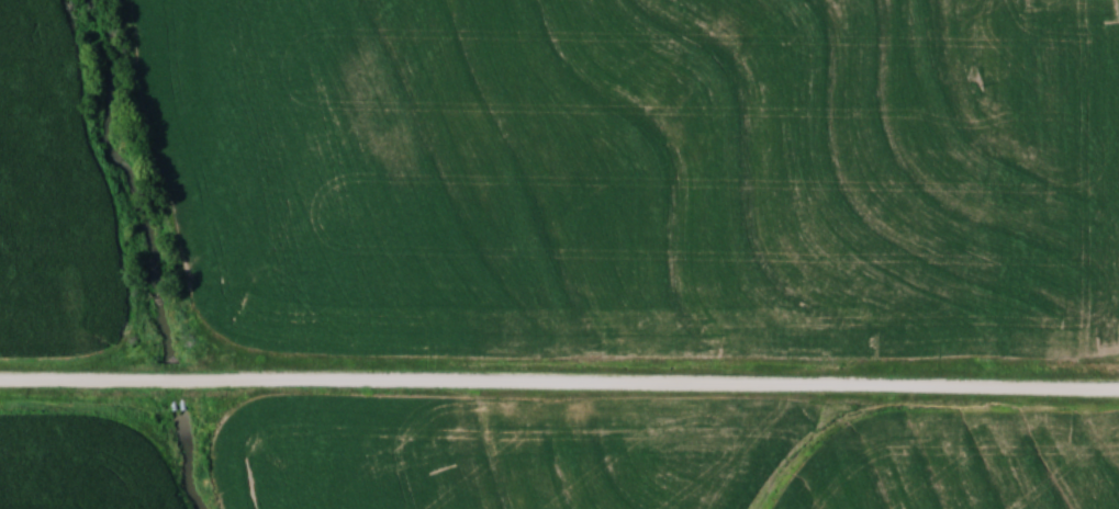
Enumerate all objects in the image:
road: (559, 385)

